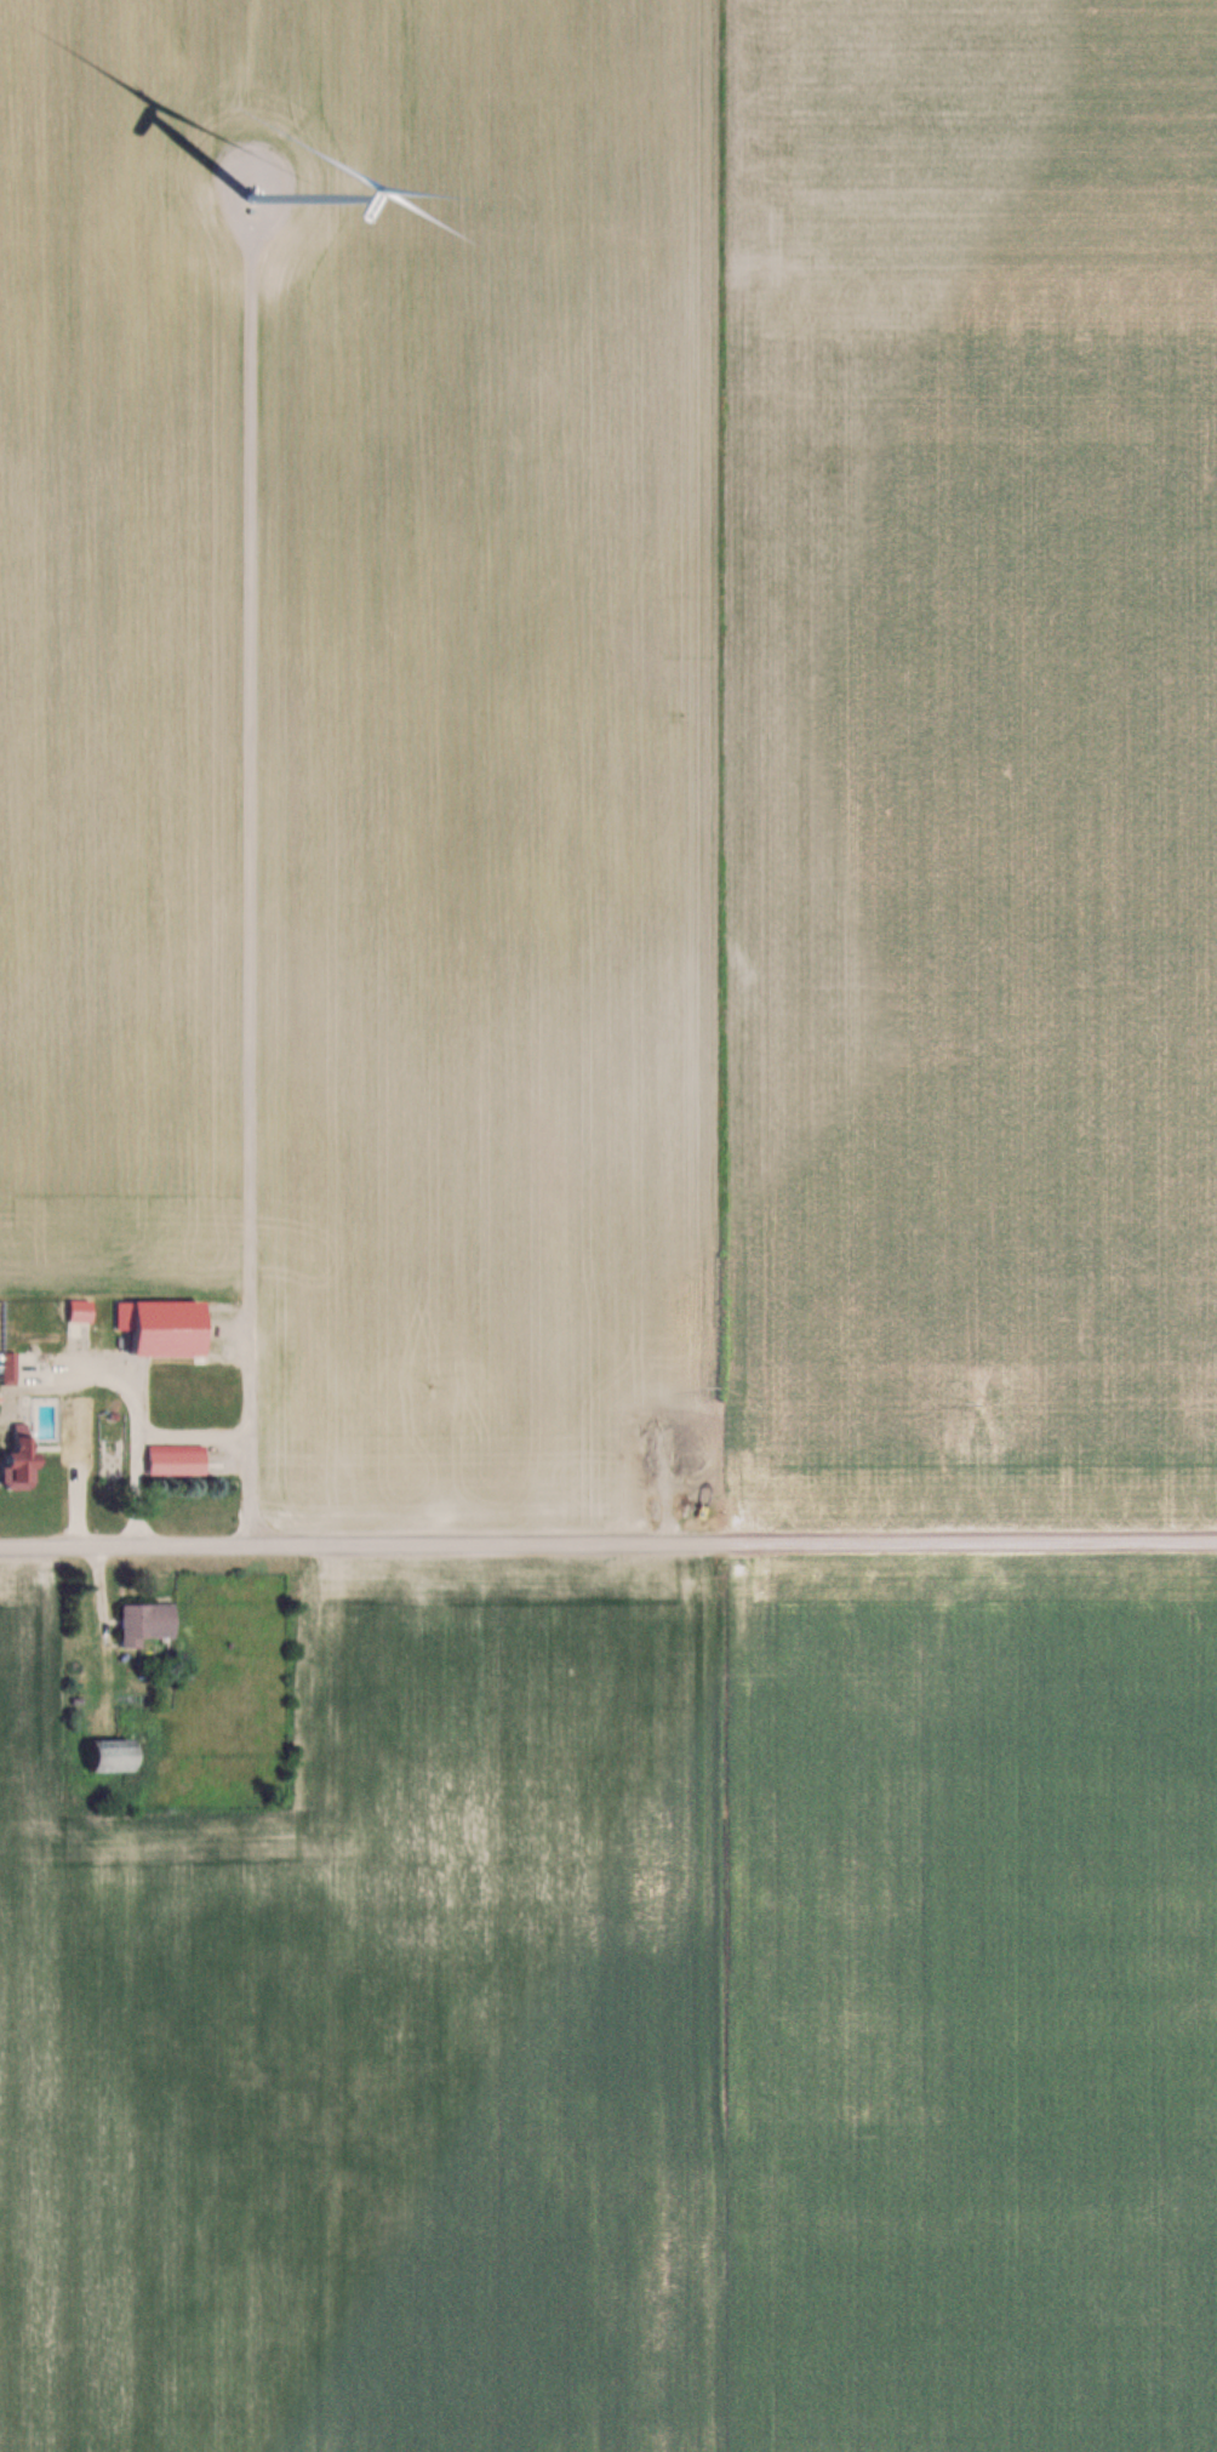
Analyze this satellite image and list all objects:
wind turbine: (233, 200)
road: (242, 902)
building: (12, 1368)
road: (125, 1412)
building: (670, 1445)
building: (23, 1458)
building: (179, 1459)
road: (607, 1551)
building: (148, 1621)
building: (118, 1755)

